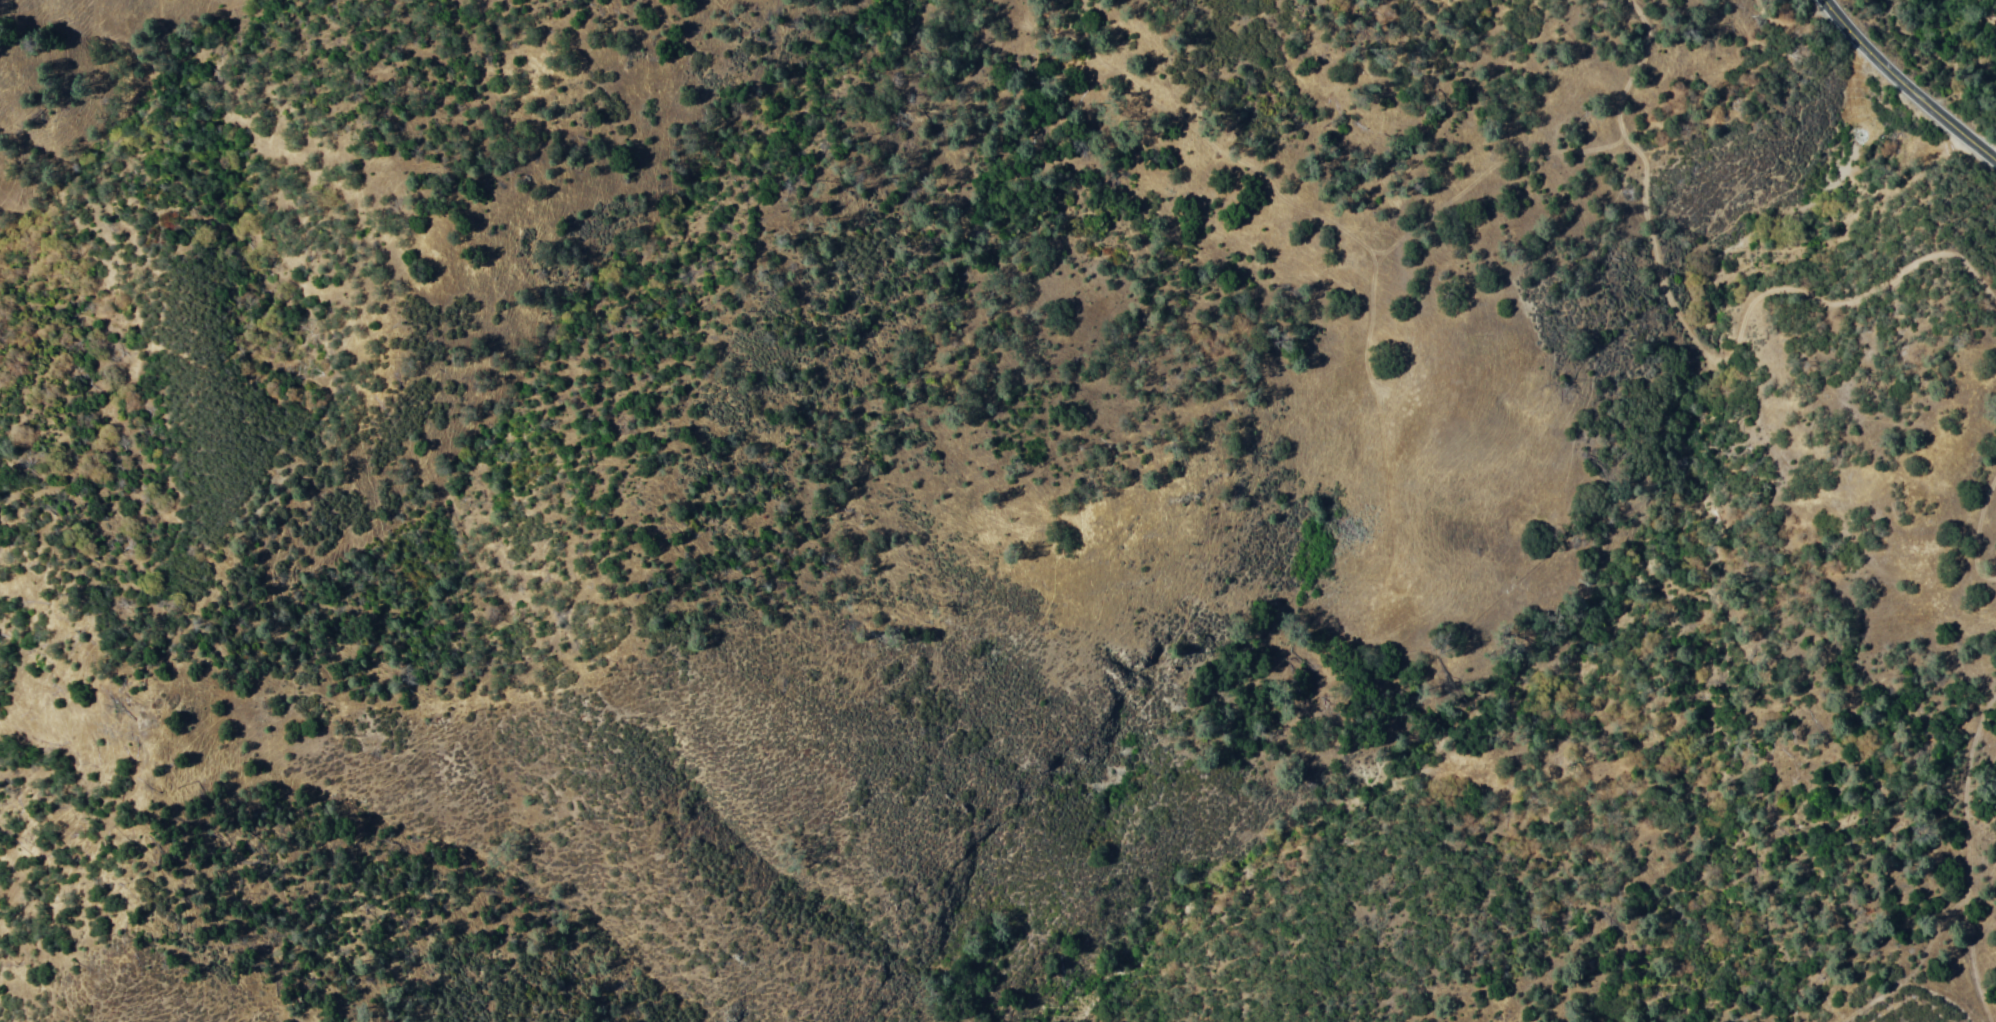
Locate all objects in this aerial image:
road: (1793, 32)
road: (1905, 86)

